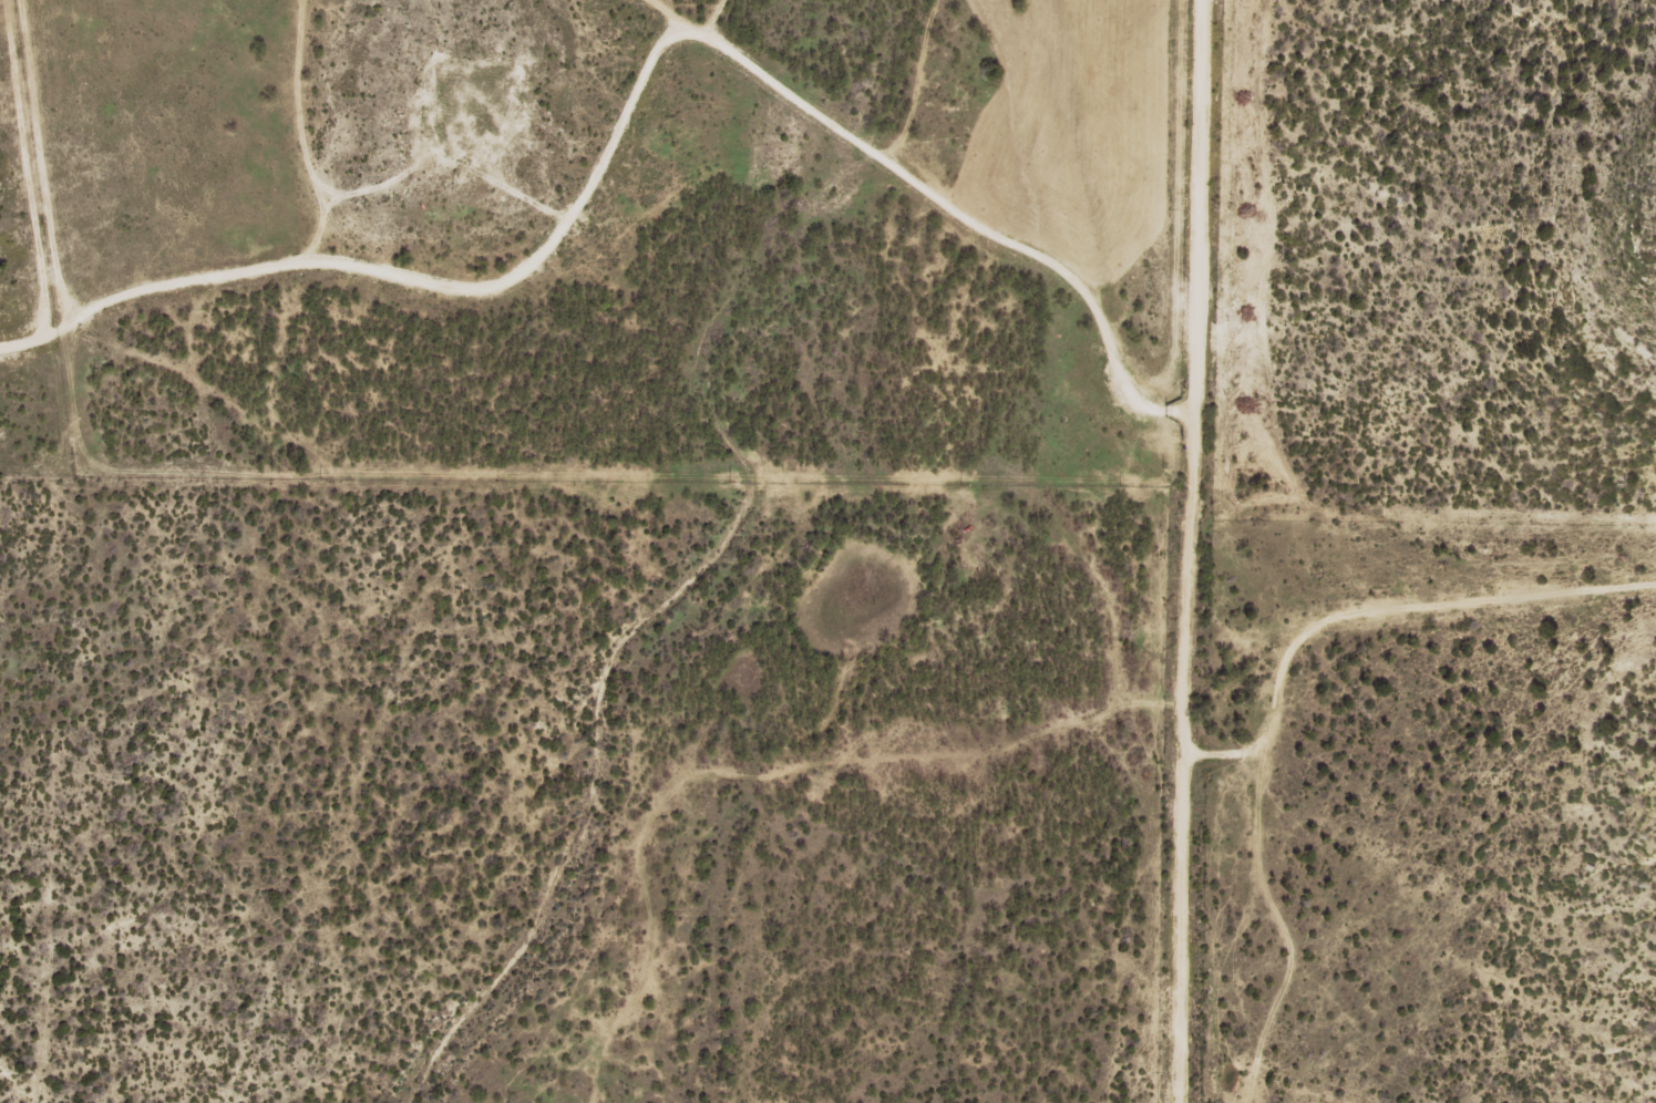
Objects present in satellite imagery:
road: (953, 182)
road: (1190, 551)
road: (1420, 672)

